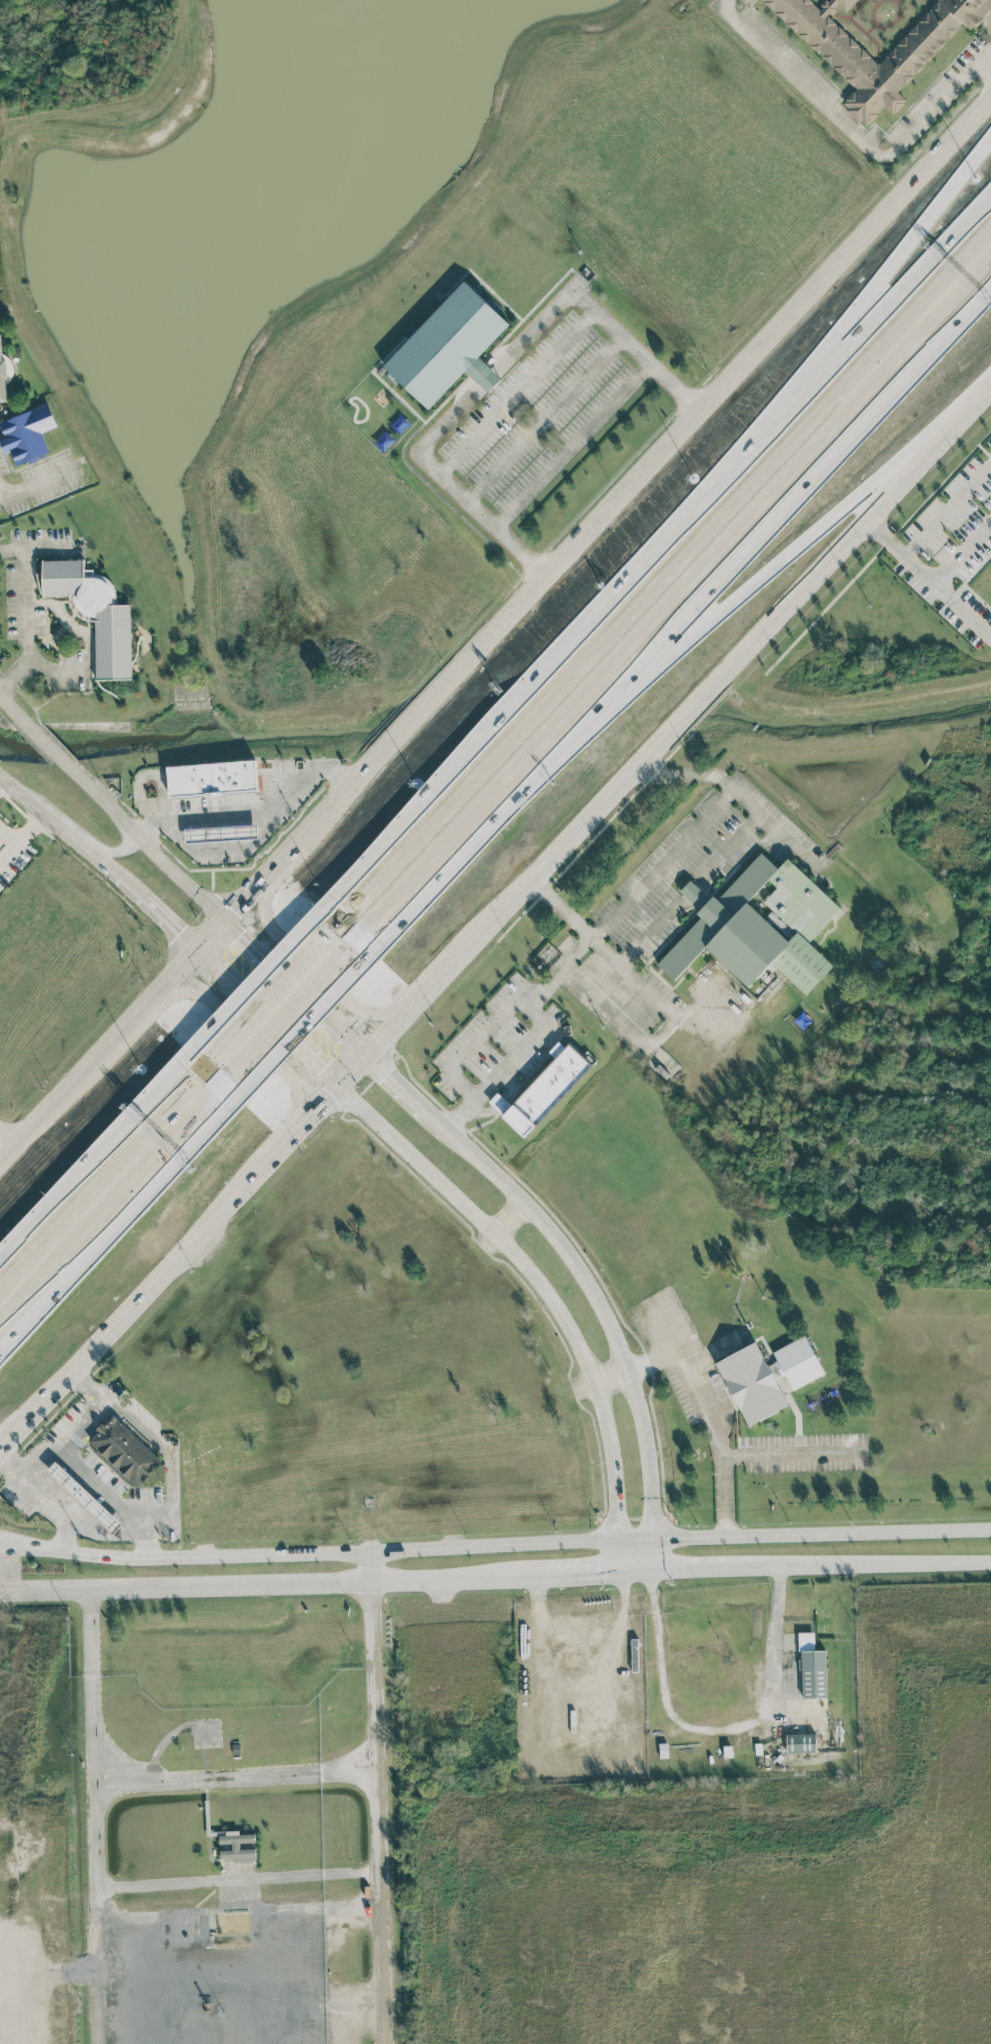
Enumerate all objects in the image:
building: (877, 40)
road: (985, 54)
road: (985, 66)
road: (849, 129)
road: (877, 280)
road: (599, 314)
road: (770, 343)
building: (449, 346)
building: (3, 378)
road: (486, 378)
road: (519, 393)
road: (547, 420)
building: (27, 434)
road: (573, 445)
road: (453, 486)
road: (30, 493)
road: (765, 505)
road: (930, 525)
road: (669, 548)
road: (963, 555)
road: (758, 579)
road: (947, 594)
road: (27, 611)
building: (95, 612)
road: (10, 706)
road: (424, 716)
road: (43, 738)
road: (668, 739)
road: (690, 774)
building: (212, 777)
road: (1, 778)
road: (102, 797)
road: (255, 809)
road: (45, 814)
building: (221, 833)
road: (21, 835)
road: (7, 836)
road: (461, 836)
road: (116, 848)
road: (727, 850)
road: (282, 868)
road: (113, 872)
road: (183, 880)
road: (689, 892)
building: (694, 894)
road: (247, 906)
road: (609, 917)
road: (170, 921)
traffic signals: (229, 926)
building: (760, 926)
road: (216, 940)
road: (609, 951)
traffic signals: (204, 954)
road: (278, 978)
road: (324, 978)
road: (289, 981)
road: (304, 1004)
road: (273, 1021)
road: (695, 1022)
road: (242, 1032)
road: (648, 1038)
road: (472, 1043)
road: (359, 1046)
traffic signals: (369, 1056)
road: (102, 1062)
building: (546, 1087)
traffic signals: (342, 1088)
road: (329, 1102)
building: (499, 1102)
road: (9, 1140)
road: (293, 1142)
road: (101, 1166)
road: (115, 1206)
road: (584, 1278)
road: (548, 1297)
road: (135, 1308)
road: (89, 1381)
building: (749, 1385)
road: (78, 1417)
road: (156, 1442)
road: (718, 1442)
building: (124, 1450)
road: (791, 1451)
parking lot: (806, 1453)
road: (81, 1466)
road: (43, 1495)
building: (83, 1496)
road: (141, 1521)
road: (107, 1533)
road: (495, 1544)
road: (872, 1566)
road: (694, 1571)
road: (592, 1574)
road: (274, 1581)
building: (811, 1667)
road: (714, 1731)
building: (800, 1742)
road: (139, 1787)
road: (387, 1796)
building: (237, 1846)
road: (197, 1884)
road: (104, 1965)
road: (35, 1972)
road: (250, 1988)

